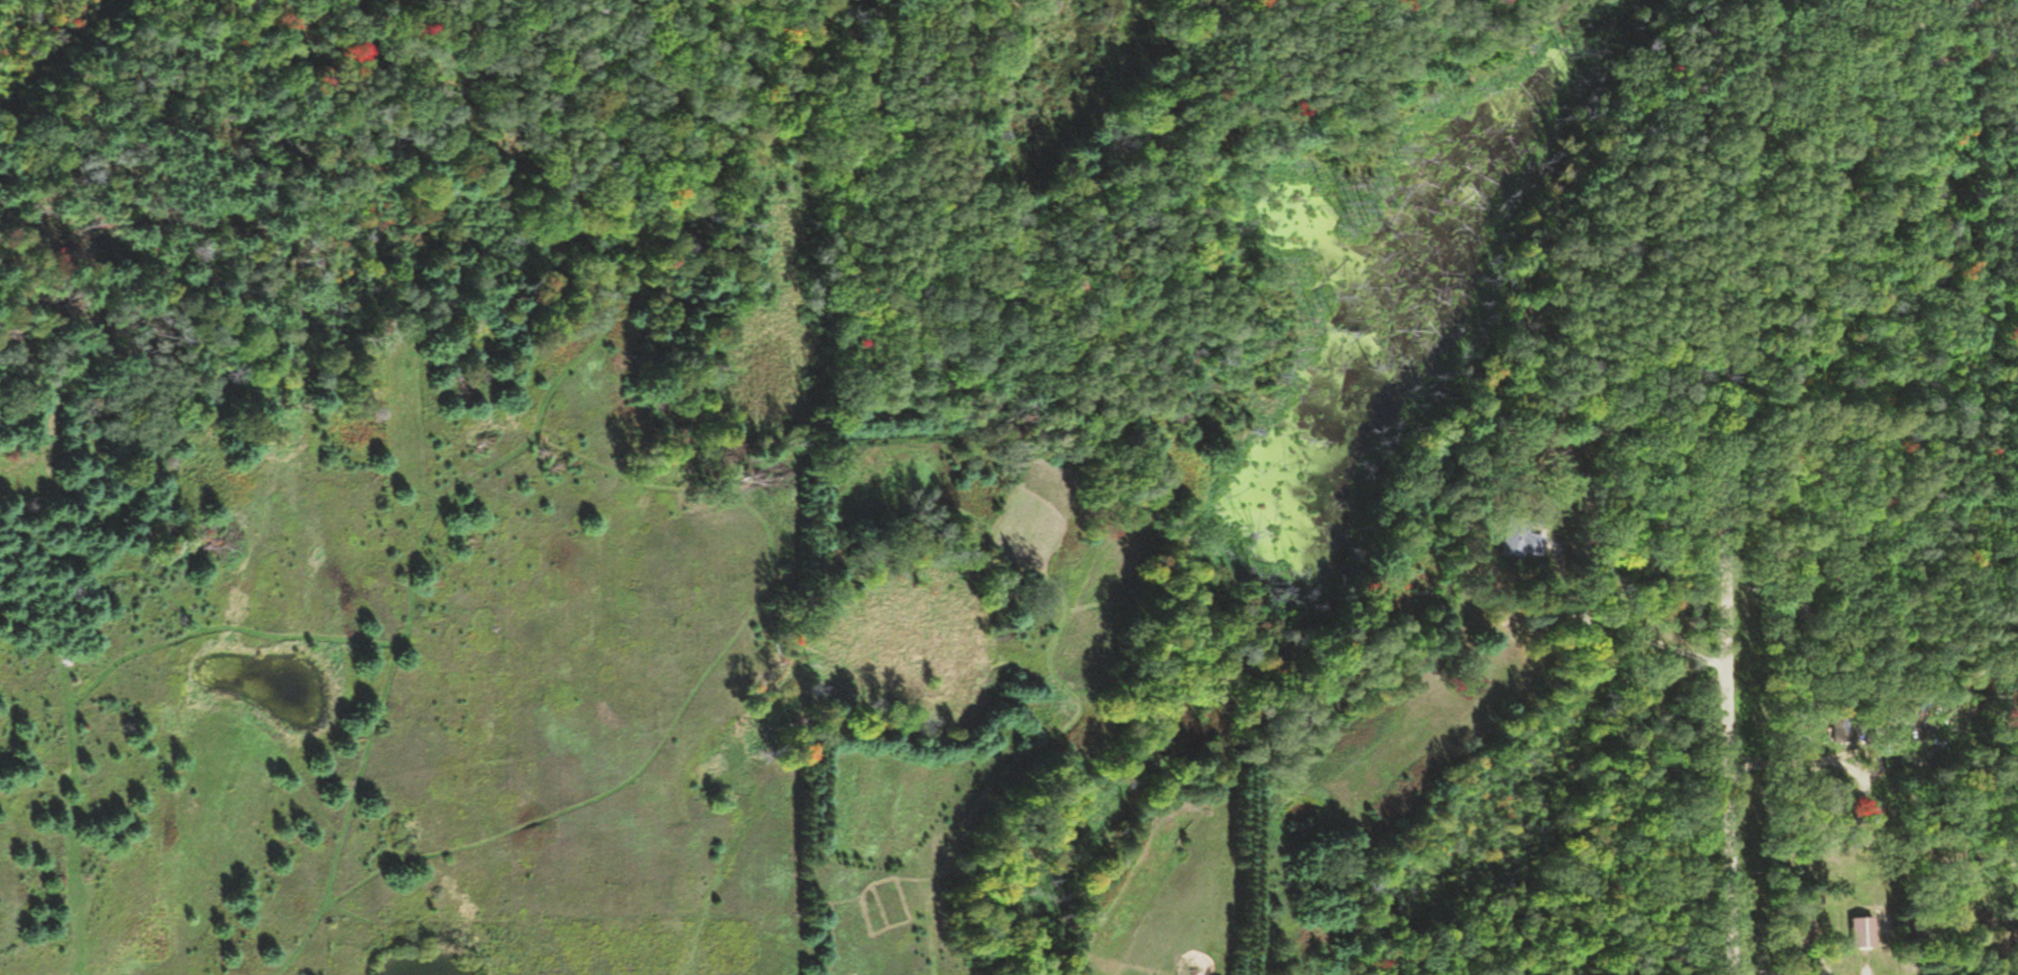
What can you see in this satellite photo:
road: (1711, 487)
building: (1520, 538)
building: (1864, 932)

